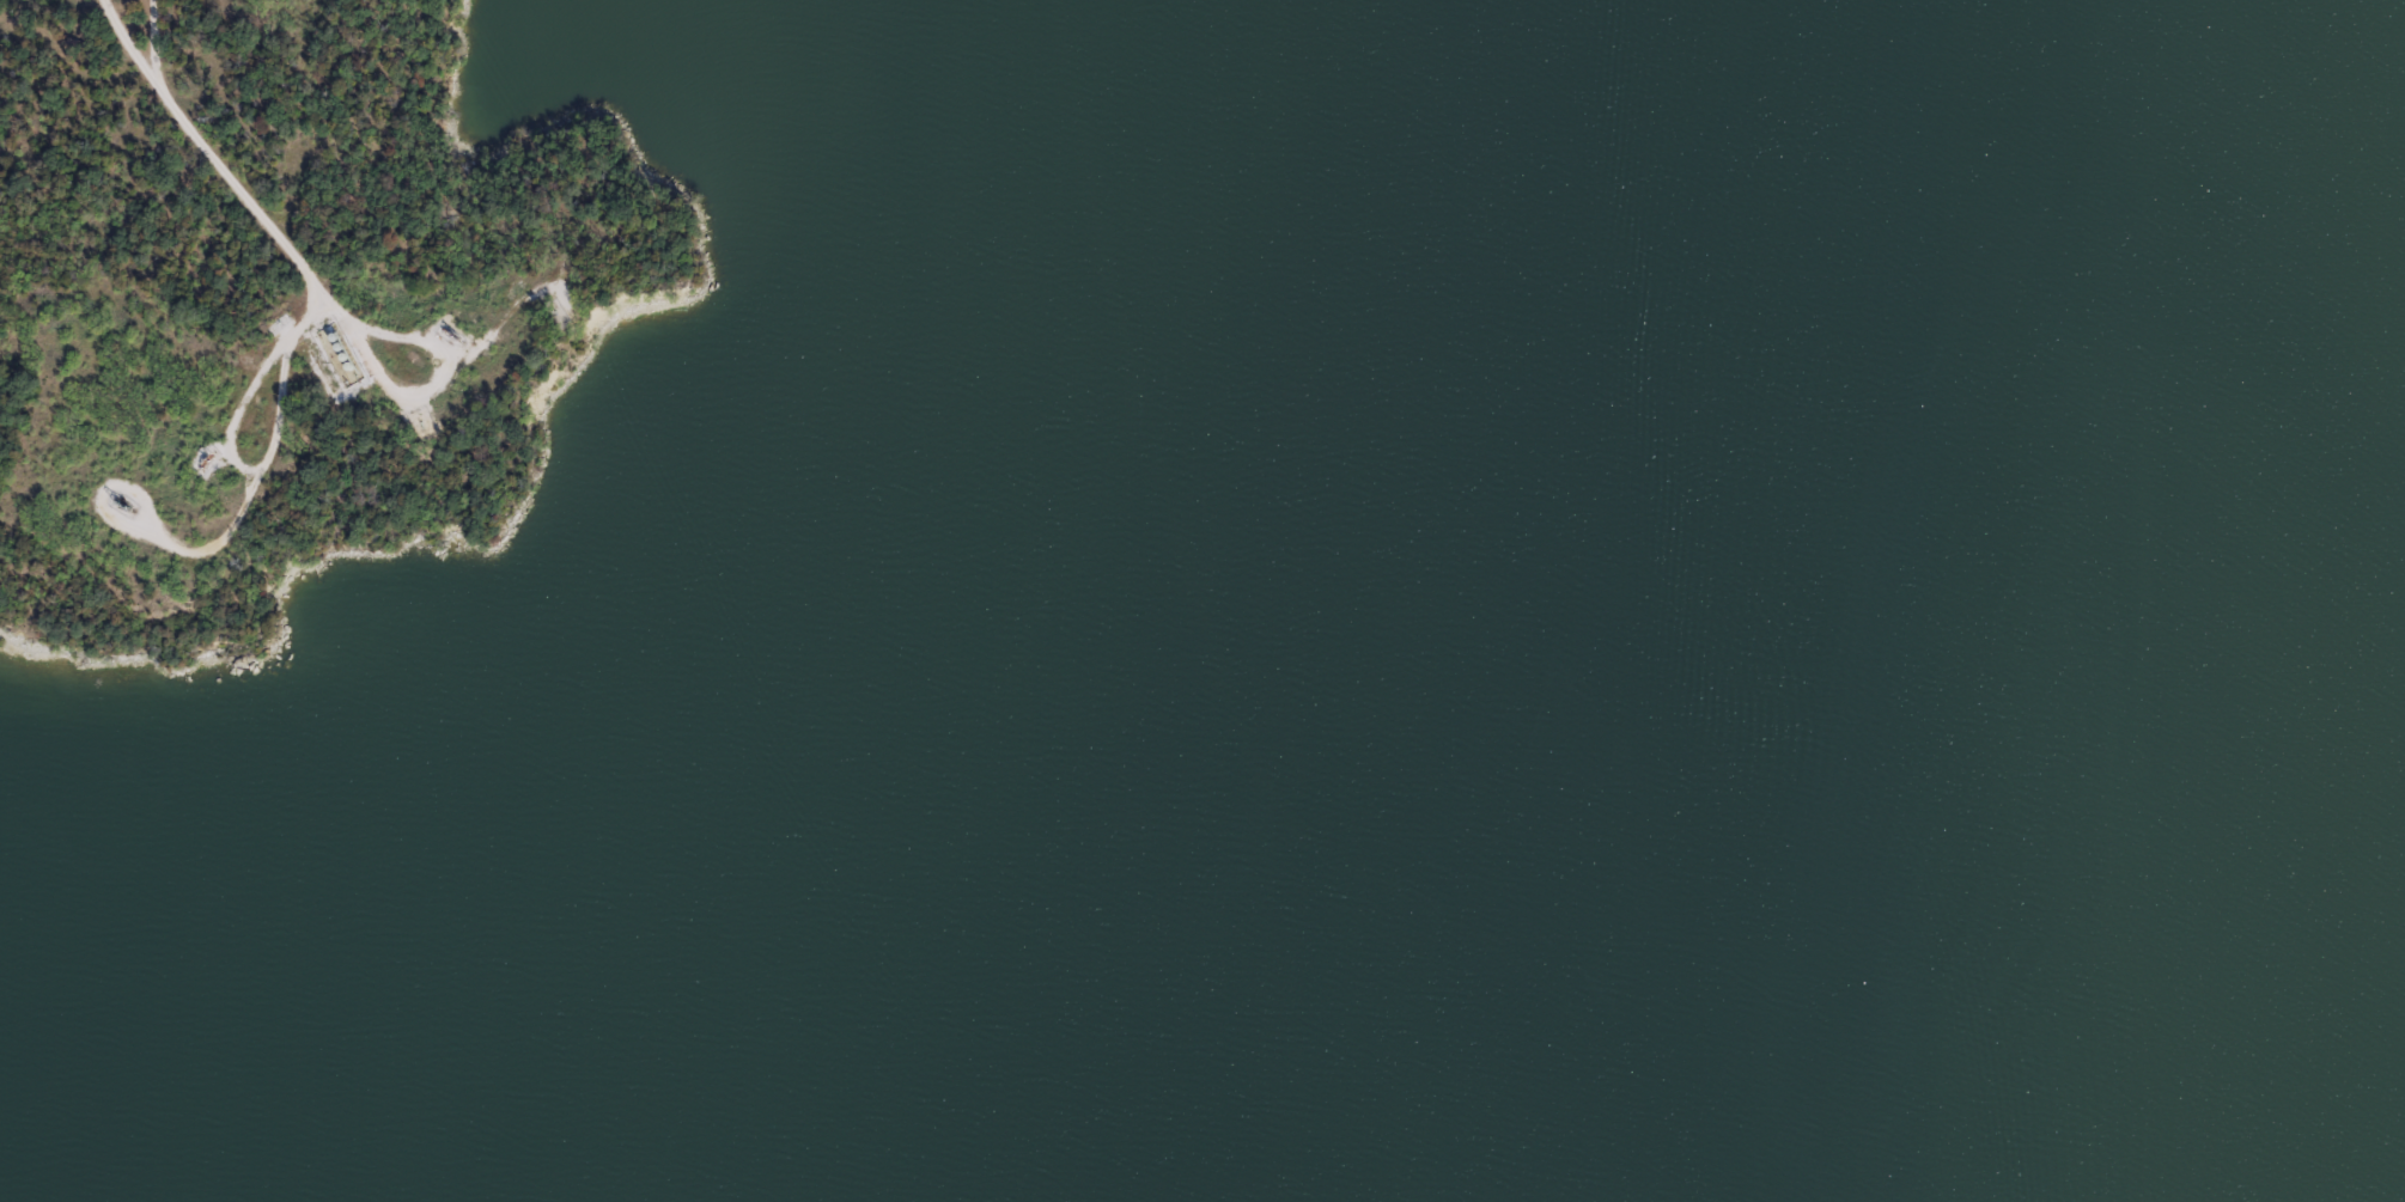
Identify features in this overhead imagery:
road: (153, 50)
road: (214, 164)
building: (341, 356)
building: (327, 370)
park: (391, 372)
road: (436, 383)
road: (243, 407)
road: (231, 530)

